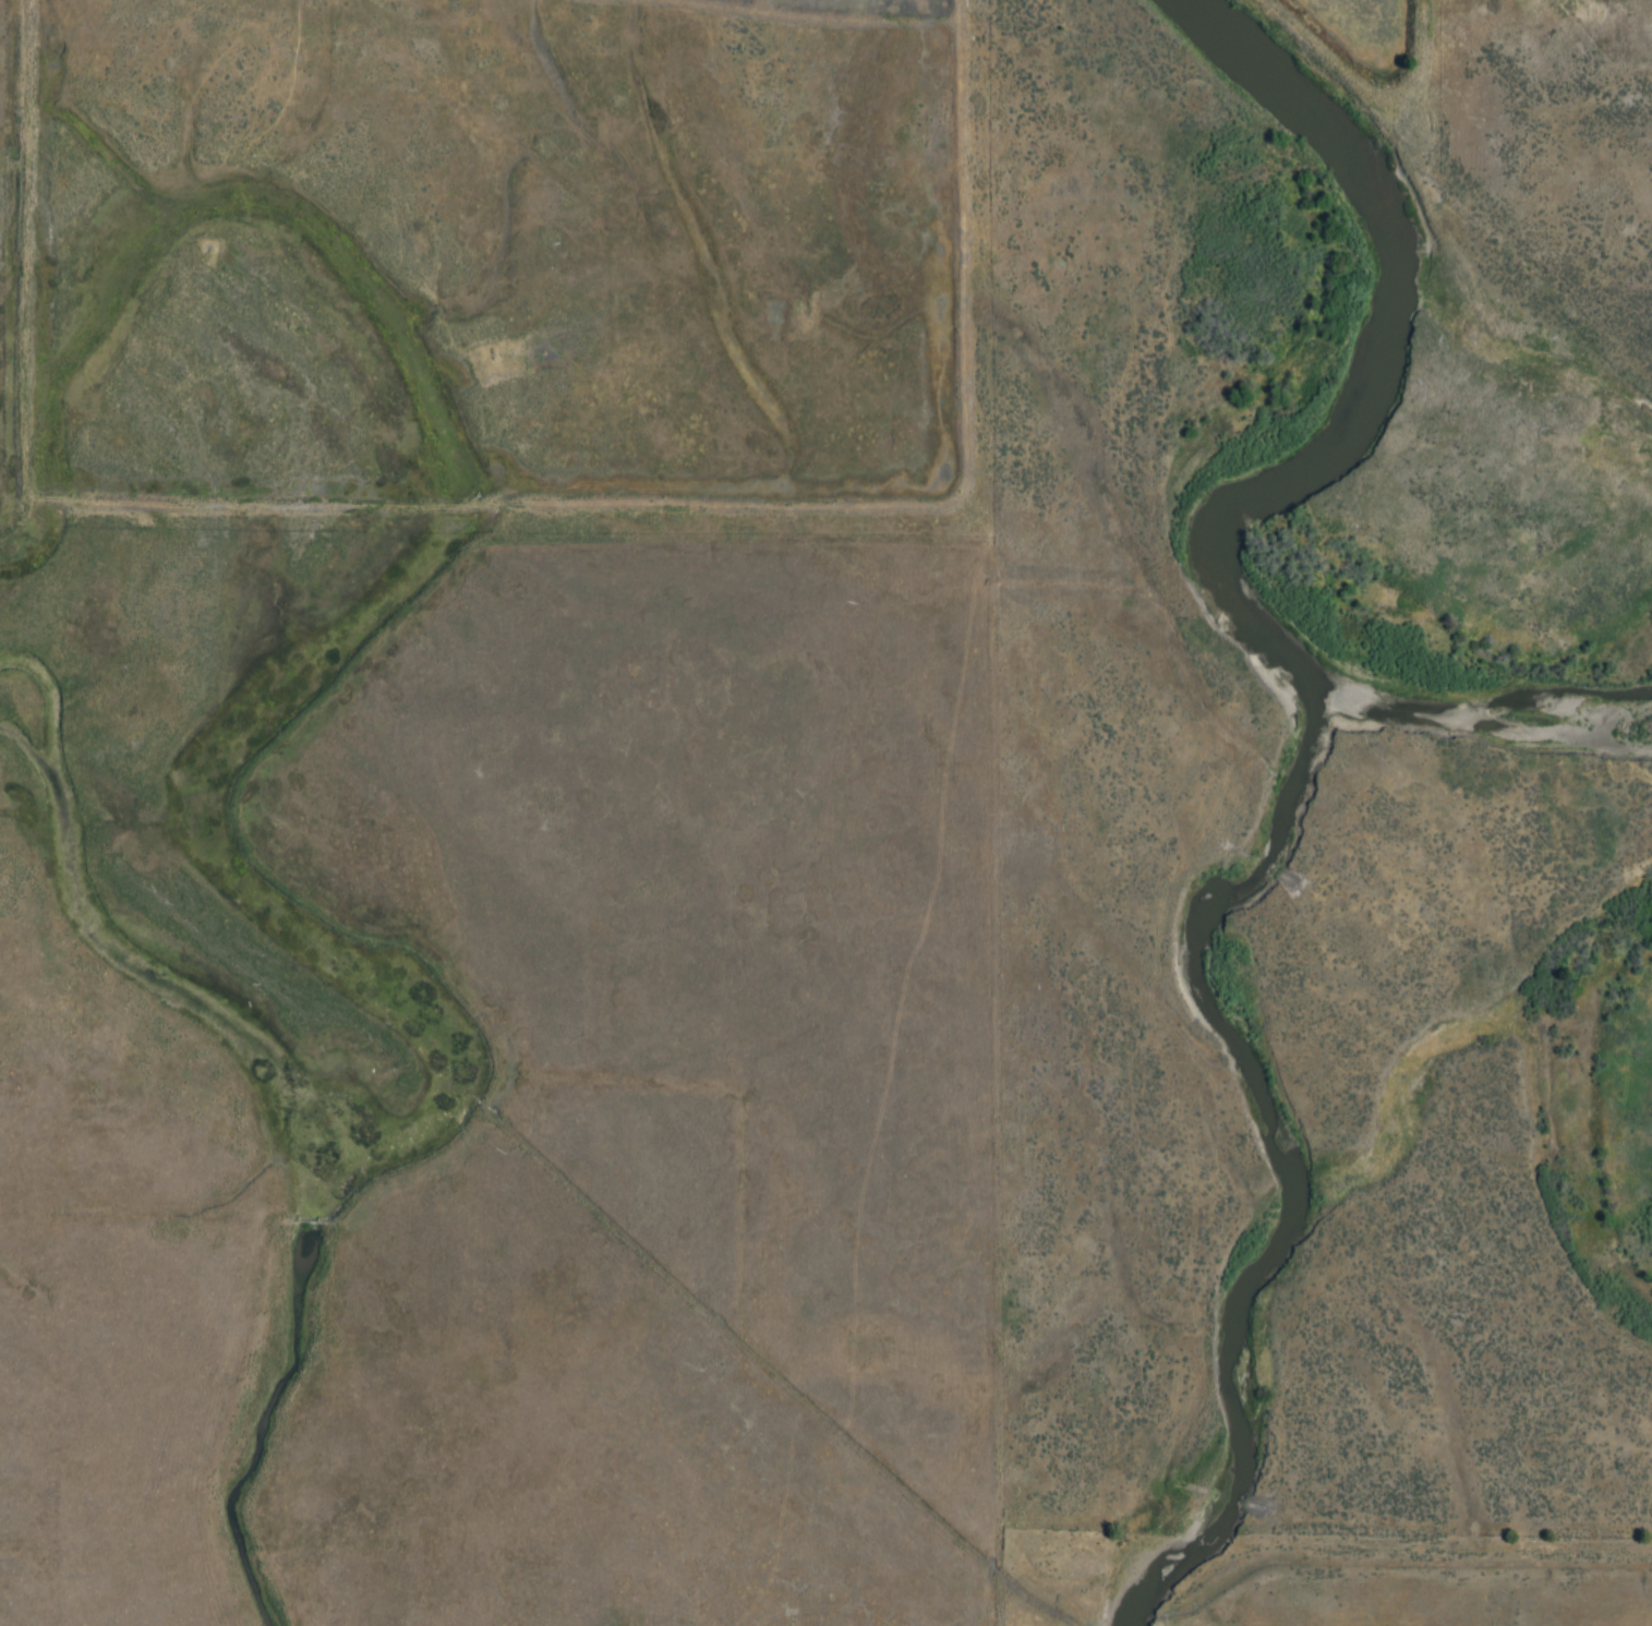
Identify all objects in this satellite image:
river: (1300, 458)

